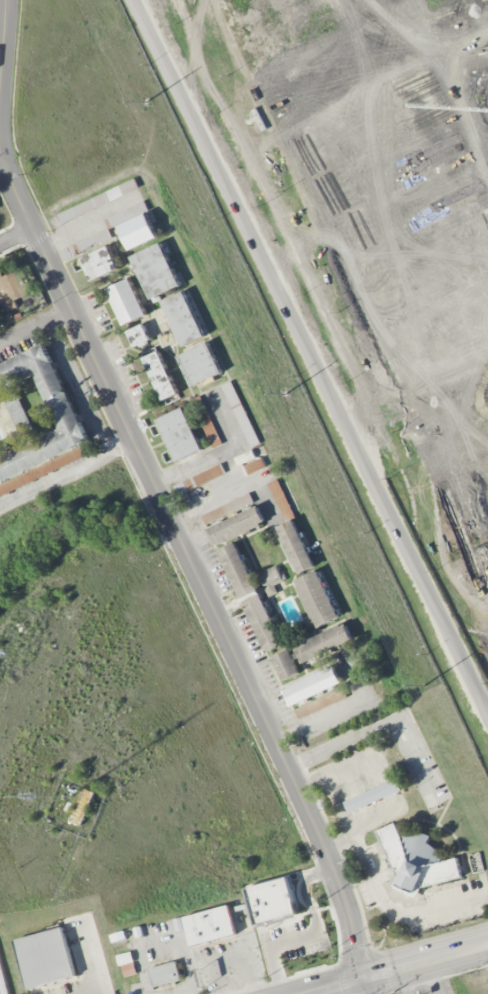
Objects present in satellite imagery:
road: (4, 22)
power tower: (147, 101)
building: (98, 201)
road: (86, 223)
building: (133, 225)
road: (17, 238)
building: (94, 239)
building: (100, 263)
building: (155, 270)
building: (11, 290)
building: (126, 301)
road: (355, 305)
building: (183, 318)
road: (35, 325)
road: (333, 327)
building: (139, 336)
building: (200, 364)
building: (161, 376)
road: (76, 386)
power tower: (285, 394)
building: (240, 413)
building: (34, 414)
building: (206, 422)
building: (179, 434)
road: (217, 452)
building: (255, 466)
road: (66, 473)
road: (225, 491)
road: (159, 495)
building: (227, 508)
building: (236, 526)
building: (291, 532)
building: (271, 580)
building: (250, 597)
building: (317, 599)
building: (323, 643)
building: (285, 664)
power tower: (423, 684)
building: (312, 686)
building: (321, 703)
road: (337, 712)
road: (378, 726)
building: (373, 795)
road: (344, 807)
building: (416, 860)
building: (271, 901)
road: (401, 912)
building: (178, 924)
building: (210, 925)
building: (44, 958)
road: (98, 961)
building: (127, 964)
road: (428, 964)
building: (165, 974)
road: (431, 979)
building: (2, 981)
traffic signals: (369, 981)
road: (401, 983)
road: (344, 987)
road: (370, 987)

